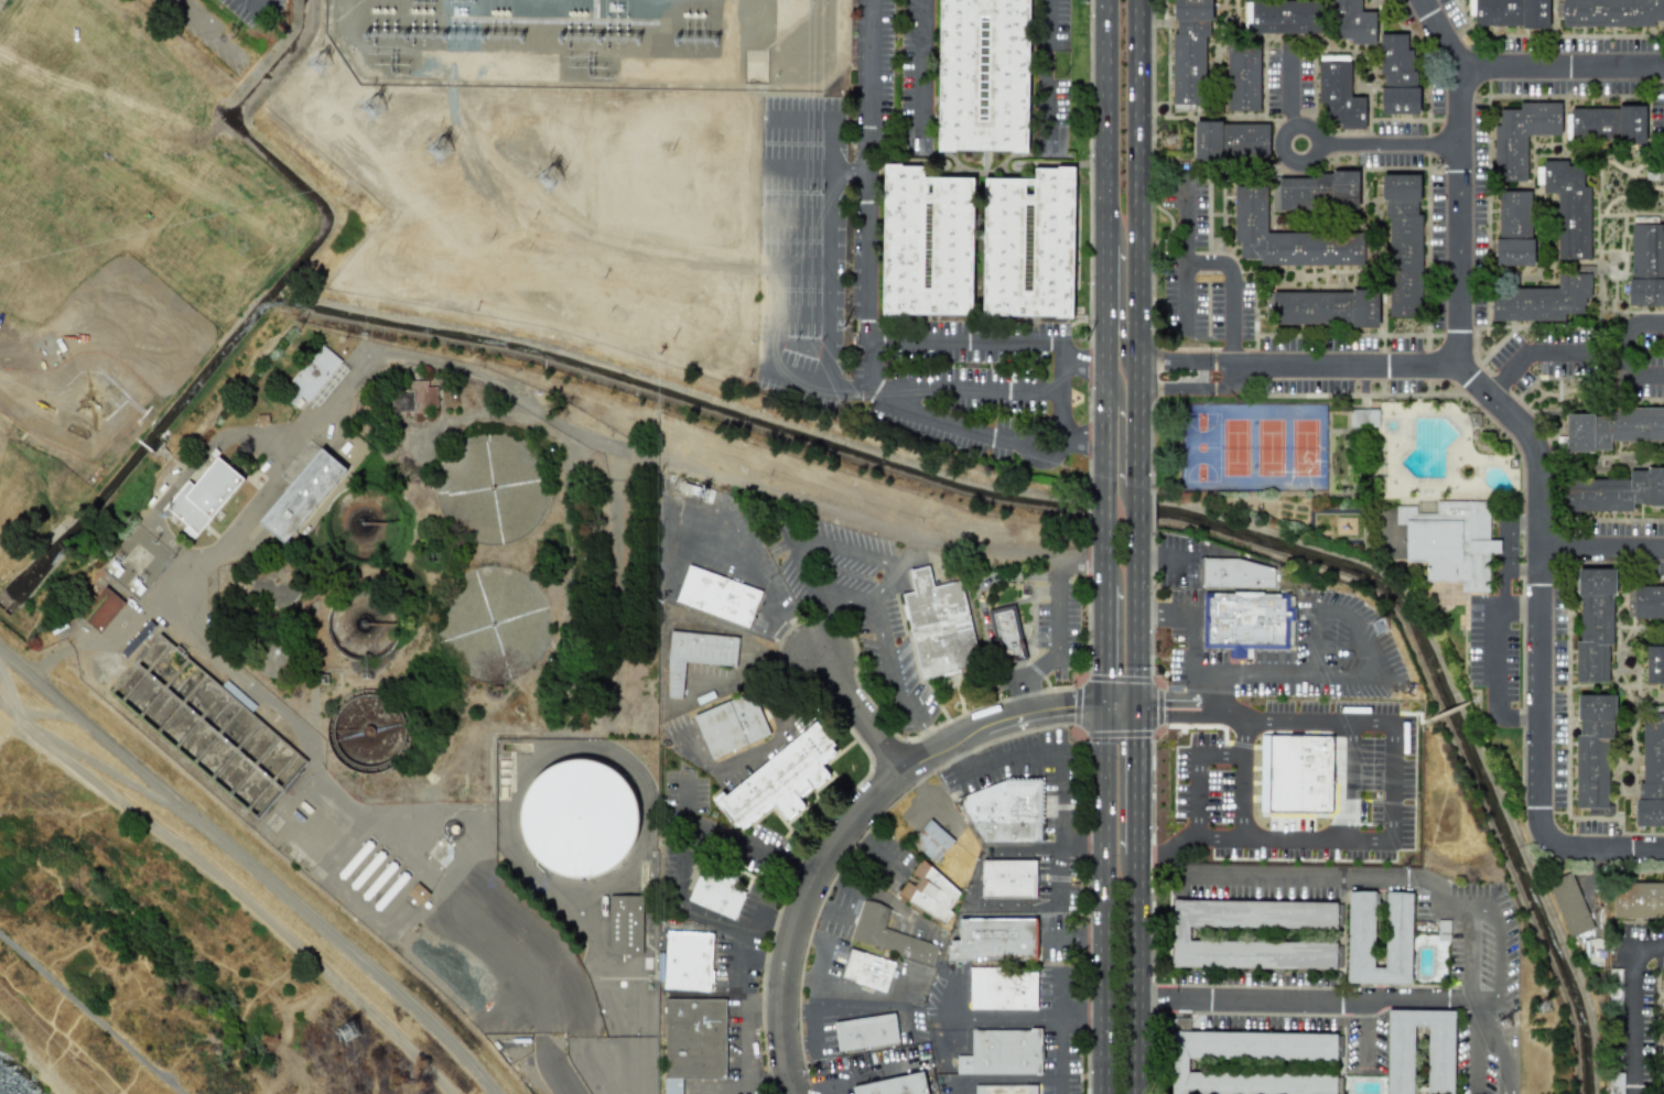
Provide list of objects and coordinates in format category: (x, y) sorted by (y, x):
road: (258, 4)
building: (1508, 12)
building: (1609, 12)
building: (1285, 18)
building: (1352, 22)
road: (207, 31)
power tower: (381, 34)
power tower: (420, 34)
power tower: (458, 35)
power tower: (497, 35)
power tower: (690, 40)
power tower: (576, 41)
power tower: (616, 41)
power substation: (590, 43)
building: (1189, 56)
road: (1046, 64)
power tower: (316, 65)
road: (1560, 66)
road: (922, 75)
building: (982, 75)
building: (1397, 76)
building: (1242, 78)
road: (1289, 85)
building: (1339, 95)
power tower: (372, 108)
road: (1107, 122)
building: (1590, 124)
building: (1631, 124)
building: (1521, 136)
power tower: (1164, 140)
building: (1231, 140)
road: (1328, 143)
road: (829, 145)
power tower: (439, 152)
road: (803, 173)
road: (1457, 176)
power tower: (548, 180)
building: (1314, 192)
building: (1568, 207)
road: (1139, 220)
road: (802, 227)
building: (1514, 228)
building: (1287, 238)
building: (927, 242)
building: (1028, 245)
building: (1403, 246)
road: (1217, 262)
building: (1646, 264)
road: (799, 274)
road: (1107, 275)
road: (1185, 289)
building: (1545, 297)
building: (1325, 307)
road: (868, 312)
road: (834, 323)
road: (800, 334)
road: (969, 340)
road: (1120, 340)
road: (1614, 350)
road: (1525, 356)
road: (1184, 360)
road: (433, 366)
building: (310, 376)
road: (964, 388)
road: (1190, 388)
road: (1060, 396)
building: (412, 397)
road: (1119, 404)
building: (1363, 418)
building: (1610, 427)
road: (1105, 445)
park: (1254, 446)
road: (1139, 465)
road: (1538, 476)
building: (1613, 492)
building: (301, 495)
building: (203, 496)
building: (1424, 507)
road: (251, 510)
building: (1450, 542)
road: (1601, 546)
road: (800, 549)
road: (1068, 554)
road: (1165, 555)
road: (1523, 566)
building: (1236, 574)
road: (767, 589)
road: (979, 595)
building: (717, 596)
road: (1139, 597)
building: (1647, 602)
road: (1519, 607)
building: (100, 609)
road: (1167, 611)
building: (1244, 619)
road: (1496, 622)
building: (1593, 624)
building: (938, 626)
building: (1008, 632)
road: (1318, 642)
power tower: (1384, 642)
road: (885, 643)
road: (1105, 646)
road: (1060, 647)
road: (769, 653)
building: (696, 656)
road: (1195, 660)
building: (1654, 664)
road: (1339, 675)
road: (37, 681)
building: (175, 690)
road: (1122, 707)
road: (1166, 708)
road: (862, 713)
building: (730, 725)
road: (97, 734)
road: (760, 745)
building: (1338, 745)
building: (1592, 748)
road: (1218, 754)
building: (1295, 771)
building: (1651, 772)
road: (1243, 776)
road: (1347, 779)
building: (779, 780)
road: (1137, 781)
road: (1189, 795)
road: (928, 800)
road: (1060, 810)
building: (1002, 812)
building: (577, 817)
road: (1402, 817)
road: (360, 821)
road: (854, 823)
building: (930, 841)
road: (734, 843)
road: (1607, 847)
road: (1025, 848)
road: (873, 849)
road: (1366, 876)
building: (1006, 879)
road: (271, 882)
road: (234, 889)
building: (716, 891)
building: (928, 893)
road: (880, 895)
building: (1567, 899)
building: (1638, 899)
road: (1105, 900)
road: (823, 908)
road: (711, 917)
building: (629, 927)
building: (1397, 929)
building: (886, 934)
building: (1179, 934)
road: (1074, 939)
building: (991, 941)
building: (1593, 951)
road: (1495, 957)
road: (821, 960)
building: (688, 961)
road: (765, 966)
building: (866, 970)
road: (1136, 974)
road: (825, 989)
building: (1000, 989)
road: (832, 998)
road: (1355, 1001)
road: (738, 1005)
road: (1632, 1005)
power tower: (1547, 1009)
road: (94, 1015)
road: (1009, 1015)
road: (904, 1017)
building: (1662, 1023)
power tower: (350, 1032)
building: (863, 1032)
road: (819, 1041)
building: (1002, 1052)
road: (1058, 1053)
building: (1439, 1057)
building: (1178, 1065)
road: (554, 1072)
road: (998, 1079)
building: (1613, 1083)
building: (893, 1085)
road: (722, 1086)
road: (818, 1086)
building: (1004, 1090)
building: (1662, 1093)

